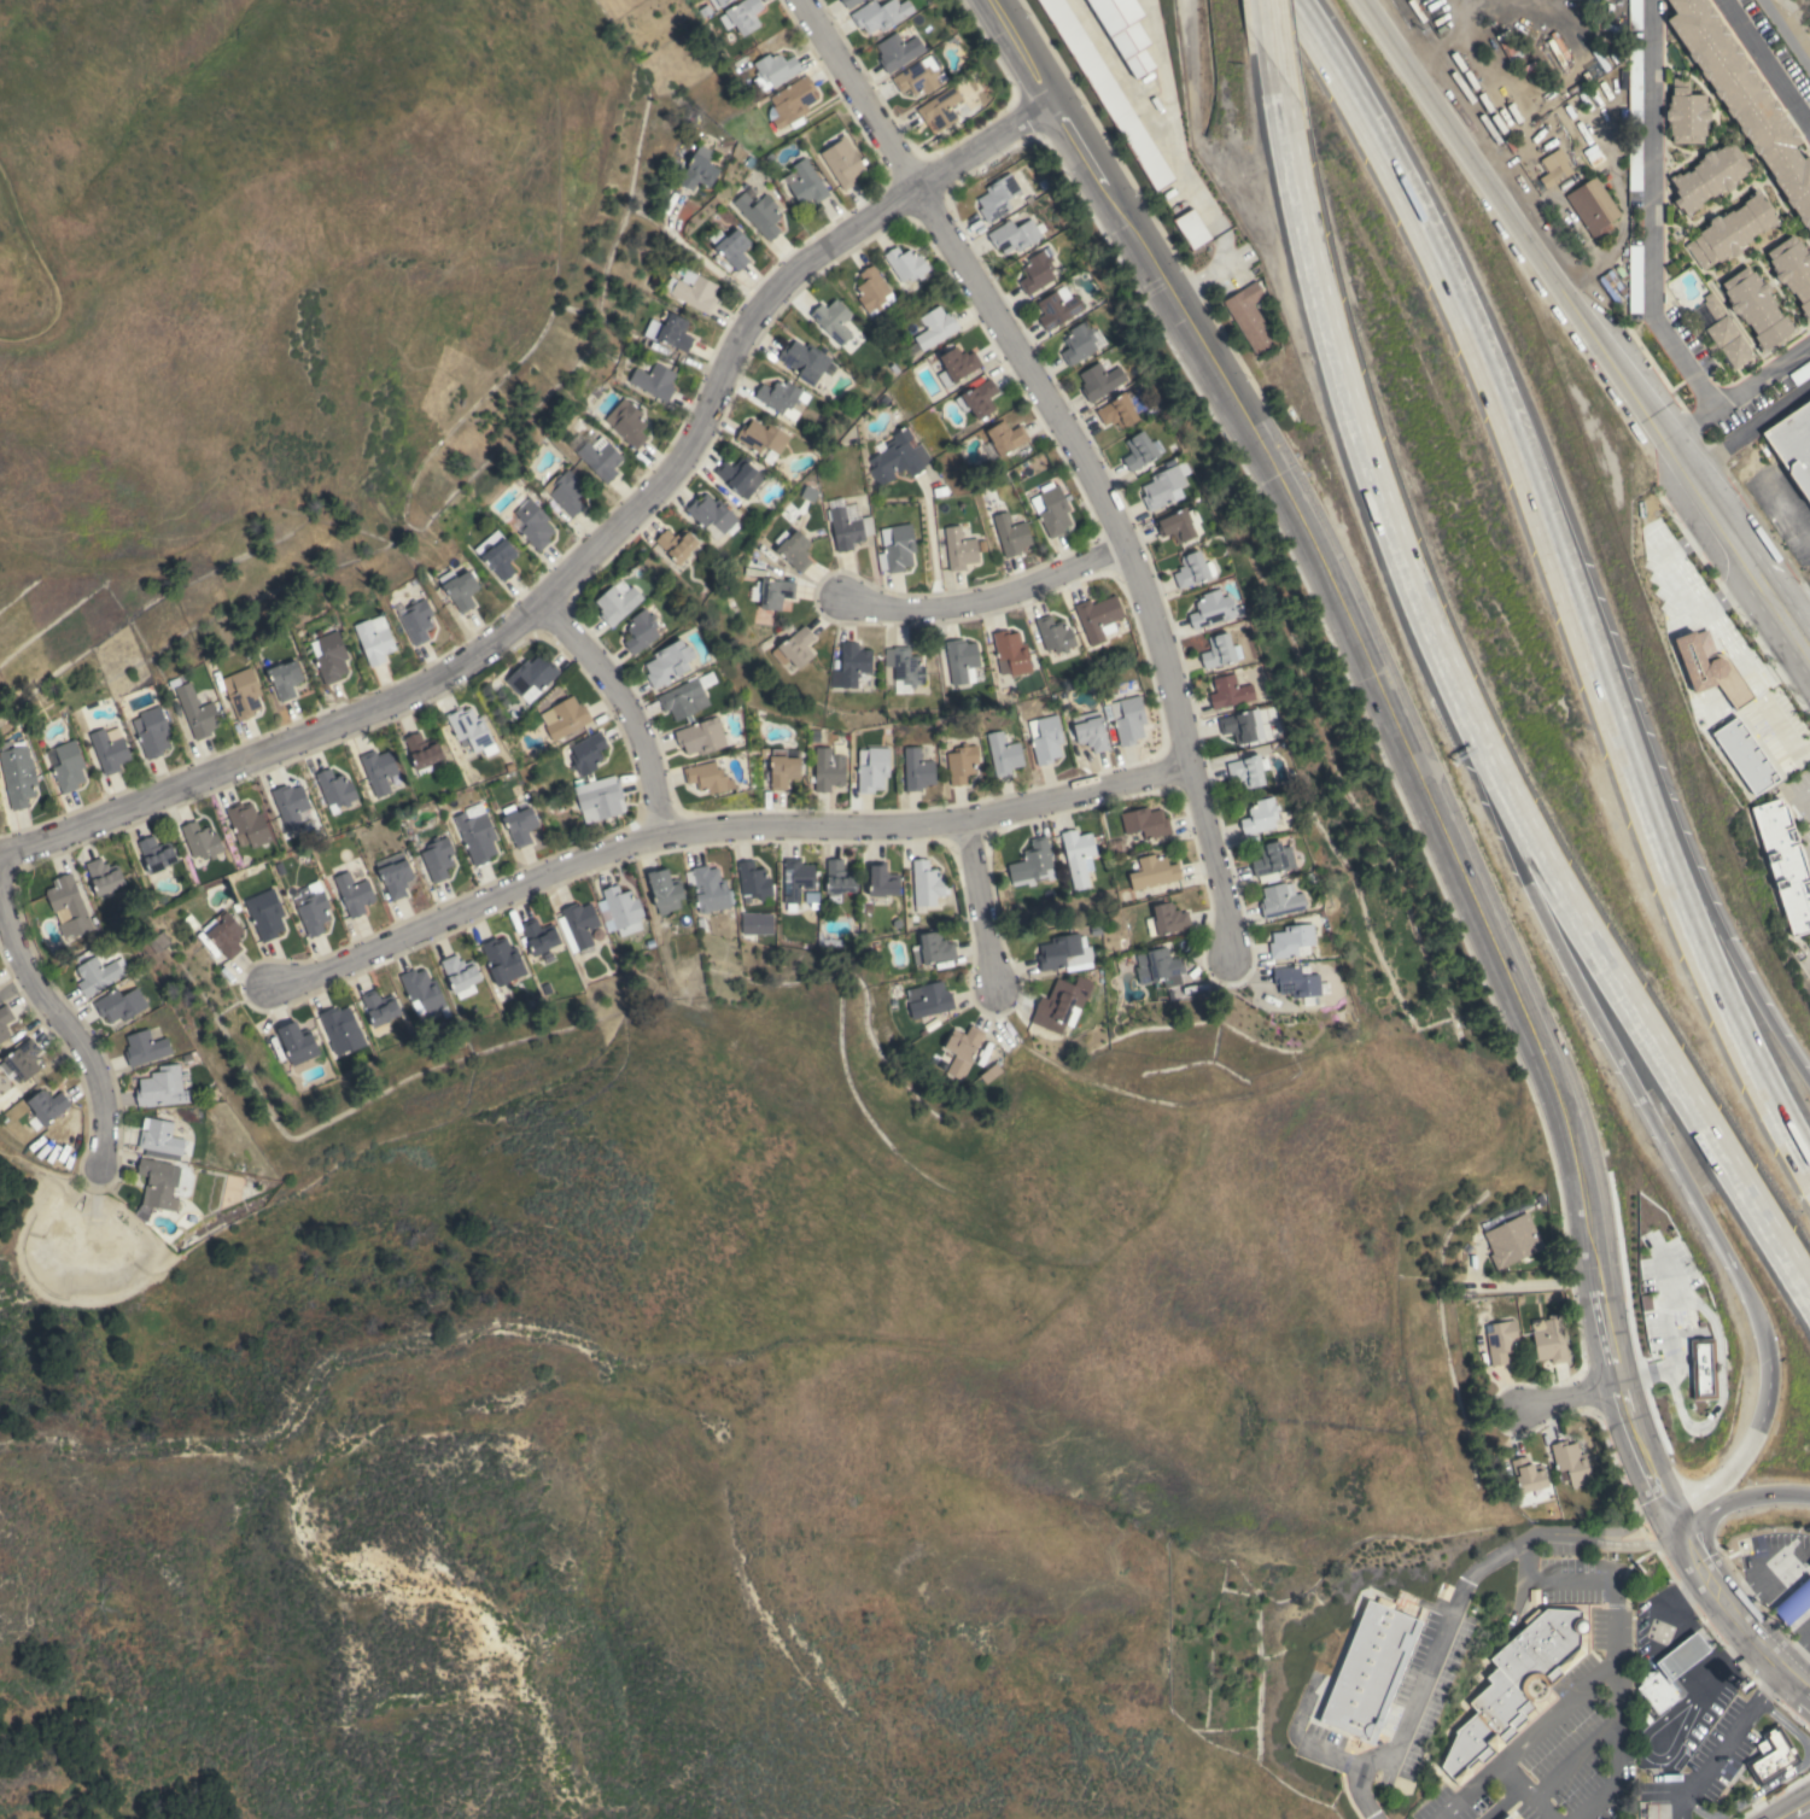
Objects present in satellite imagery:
building: (718, 2)
building: (849, 2)
building: (880, 14)
building: (1634, 14)
building: (741, 16)
building: (1125, 31)
road: (1269, 34)
building: (898, 49)
road: (1765, 65)
building: (773, 70)
building: (917, 76)
building: (1634, 84)
building: (1108, 93)
building: (1744, 100)
building: (792, 101)
building: (940, 107)
building: (1686, 113)
building: (842, 162)
building: (1634, 163)
building: (1554, 166)
building: (699, 169)
building: (1707, 177)
building: (805, 182)
building: (997, 197)
building: (1592, 207)
road: (1651, 212)
building: (759, 214)
building: (1191, 228)
building: (1730, 230)
building: (1015, 234)
building: (730, 246)
road: (695, 253)
building: (905, 263)
building: (1793, 270)
building: (1035, 271)
building: (1634, 279)
building: (691, 289)
building: (872, 291)
building: (1056, 308)
building: (1756, 308)
building: (1249, 316)
building: (835, 323)
road: (1588, 326)
building: (935, 327)
building: (675, 332)
building: (1724, 335)
building: (1078, 343)
road: (1472, 343)
building: (804, 361)
building: (956, 365)
building: (1800, 372)
building: (1100, 379)
building: (654, 380)
road: (1736, 391)
building: (781, 397)
building: (977, 398)
building: (1117, 411)
building: (627, 422)
road: (1748, 431)
road: (1362, 433)
building: (760, 437)
building: (1005, 437)
building: (1793, 444)
building: (1139, 450)
road: (1078, 452)
building: (600, 457)
building: (899, 457)
building: (737, 475)
building: (1163, 486)
building: (564, 491)
parking lot: (1794, 497)
building: (1051, 509)
road: (1787, 510)
building: (851, 511)
building: (711, 513)
building: (533, 524)
building: (1178, 524)
building: (847, 528)
building: (1010, 534)
road: (929, 543)
building: (676, 544)
building: (895, 548)
building: (959, 548)
building: (793, 549)
road: (585, 552)
building: (496, 554)
building: (1192, 569)
building: (459, 587)
building: (775, 592)
road: (985, 598)
building: (617, 601)
building: (1211, 609)
road: (1798, 610)
building: (1098, 618)
building: (415, 619)
building: (643, 628)
building: (1053, 633)
building: (374, 639)
building: (794, 648)
building: (1218, 650)
building: (1011, 653)
building: (331, 657)
building: (961, 660)
building: (668, 662)
building: (852, 667)
building: (904, 667)
road: (1365, 667)
building: (1711, 671)
building: (531, 677)
building: (285, 678)
building: (1228, 691)
building: (244, 694)
building: (684, 698)
road: (621, 706)
building: (197, 712)
building: (565, 718)
building: (1127, 719)
building: (1243, 725)
building: (471, 730)
building: (151, 731)
building: (1091, 733)
building: (701, 736)
building: (1045, 738)
building: (109, 751)
building: (421, 751)
building: (586, 753)
building: (1003, 753)
building: (1744, 755)
building: (961, 762)
building: (68, 766)
building: (782, 768)
building: (828, 768)
building: (871, 768)
building: (378, 770)
building: (917, 770)
building: (1248, 770)
building: (17, 776)
building: (707, 777)
building: (334, 788)
building: (599, 799)
building: (290, 805)
parking lot: (1800, 807)
building: (1260, 815)
building: (1145, 821)
building: (249, 823)
building: (519, 823)
road: (713, 827)
building: (475, 832)
road: (1517, 835)
building: (200, 841)
building: (156, 854)
building: (1076, 855)
building: (437, 859)
building: (1272, 860)
building: (1032, 864)
building: (1785, 864)
building: (1154, 872)
building: (395, 873)
building: (104, 876)
building: (795, 878)
building: (753, 879)
building: (837, 879)
building: (882, 881)
building: (926, 884)
building: (708, 888)
building: (664, 890)
building: (352, 894)
road: (1706, 896)
building: (1280, 899)
road: (980, 902)
building: (68, 906)
building: (311, 907)
building: (621, 908)
building: (265, 913)
building: (1166, 919)
building: (577, 924)
building: (226, 935)
building: (538, 936)
building: (159, 941)
building: (1291, 941)
road: (1697, 943)
building: (932, 948)
building: (1059, 952)
building: (502, 960)
building: (1158, 967)
building: (459, 972)
building: (98, 975)
building: (1298, 983)
building: (422, 994)
building: (928, 999)
building: (119, 1004)
building: (1061, 1005)
building: (379, 1007)
building: (4, 1020)
road: (68, 1025)
building: (341, 1029)
road: (1652, 1041)
building: (297, 1042)
building: (144, 1047)
building: (962, 1049)
building: (21, 1060)
building: (991, 1072)
building: (159, 1088)
building: (46, 1107)
road: (1648, 1111)
building: (159, 1137)
building: (156, 1187)
building: (1512, 1240)
road: (1513, 1282)
building: (1548, 1338)
building: (1500, 1340)
building: (1701, 1368)
road: (1560, 1400)
road: (1619, 1403)
road: (1750, 1443)
building: (1570, 1463)
building: (1528, 1475)
road: (1654, 1493)
road: (1739, 1501)
building: (1809, 1563)
building: (1443, 1591)
building: (1793, 1602)
road: (1683, 1605)
road: (1452, 1608)
road: (1588, 1626)
road: (1745, 1632)
road: (1699, 1633)
road: (1804, 1638)
building: (1681, 1656)
gas station: (1681, 1656)
road: (1794, 1657)
road: (1715, 1663)
building: (1370, 1669)
road: (1605, 1672)
building: (1514, 1685)
road: (1769, 1686)
building: (1657, 1692)
road: (1806, 1695)
building: (1427, 1720)
road: (1613, 1751)
building: (1771, 1756)
road: (1570, 1759)
building: (1409, 1764)
road: (1712, 1764)
road: (1781, 1778)
road: (1523, 1791)
road: (1800, 1807)
road: (1786, 1815)
building: (1507, 1817)

